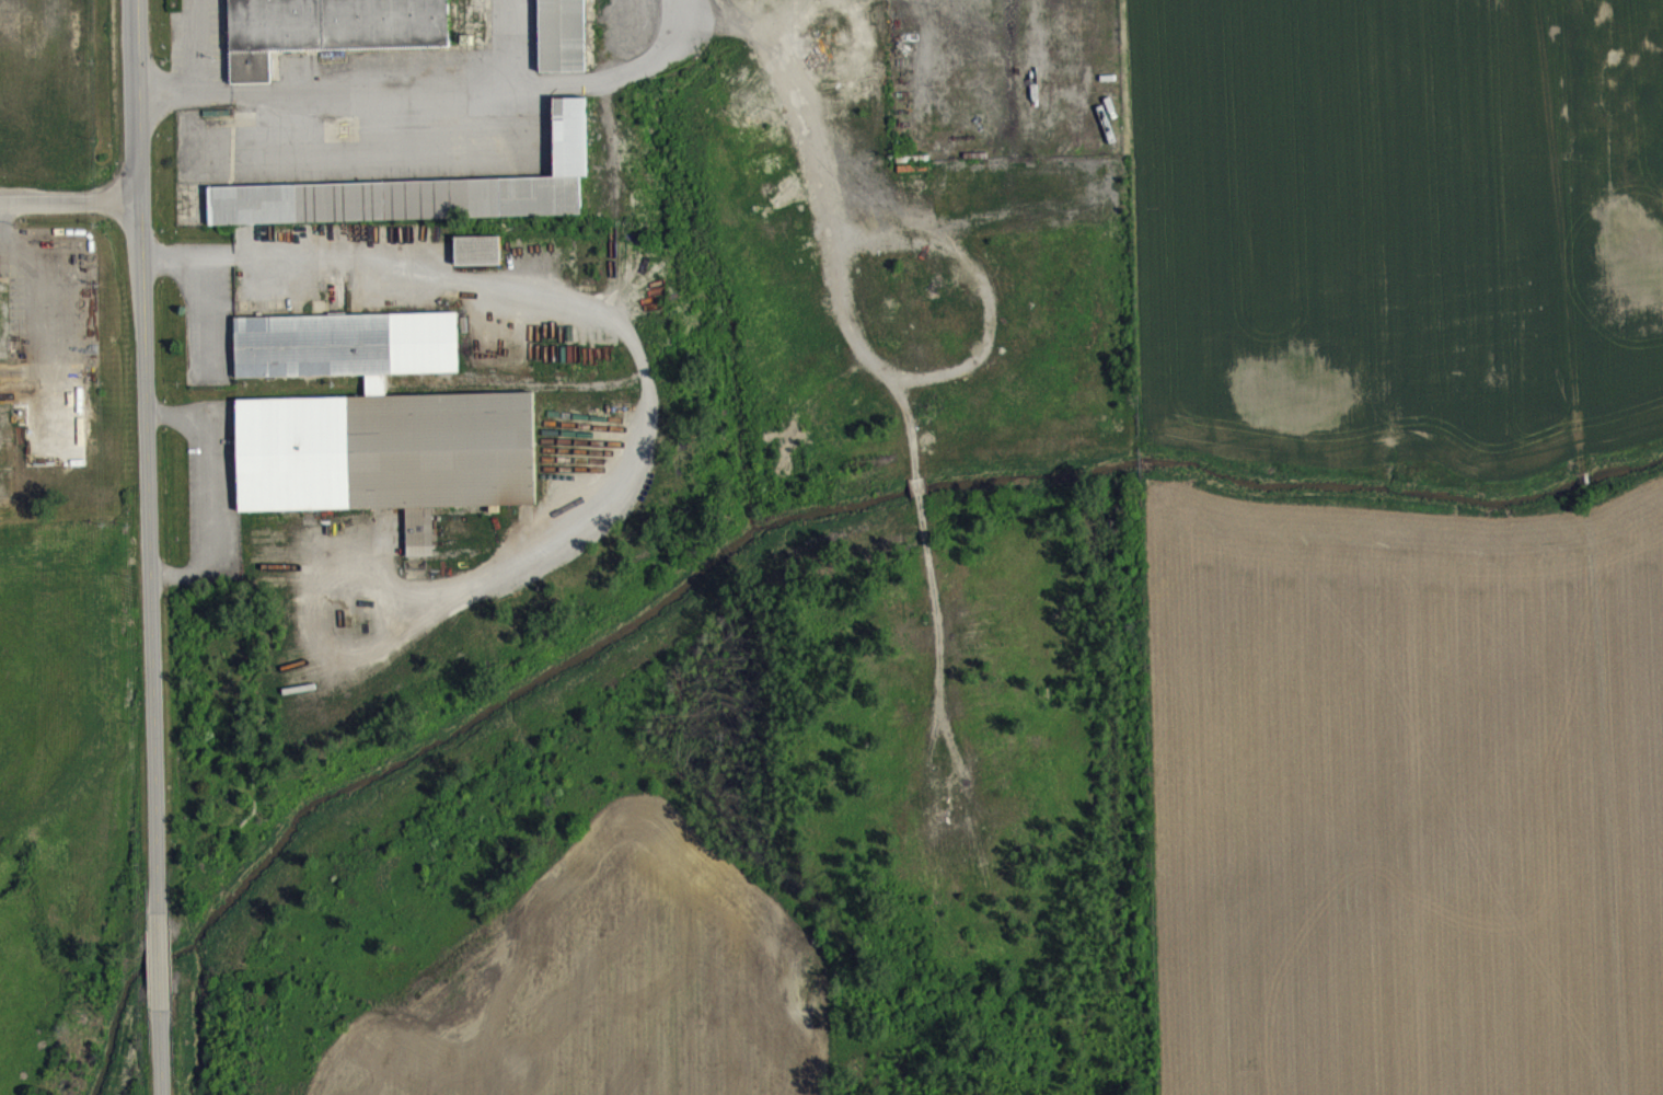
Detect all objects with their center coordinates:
building: (332, 34)
building: (562, 34)
road: (512, 43)
road: (195, 46)
road: (483, 88)
road: (182, 95)
building: (424, 201)
road: (66, 206)
building: (480, 261)
road: (579, 311)
building: (349, 356)
road: (141, 457)
building: (390, 465)
road: (211, 504)
road: (161, 959)
road: (162, 1050)

